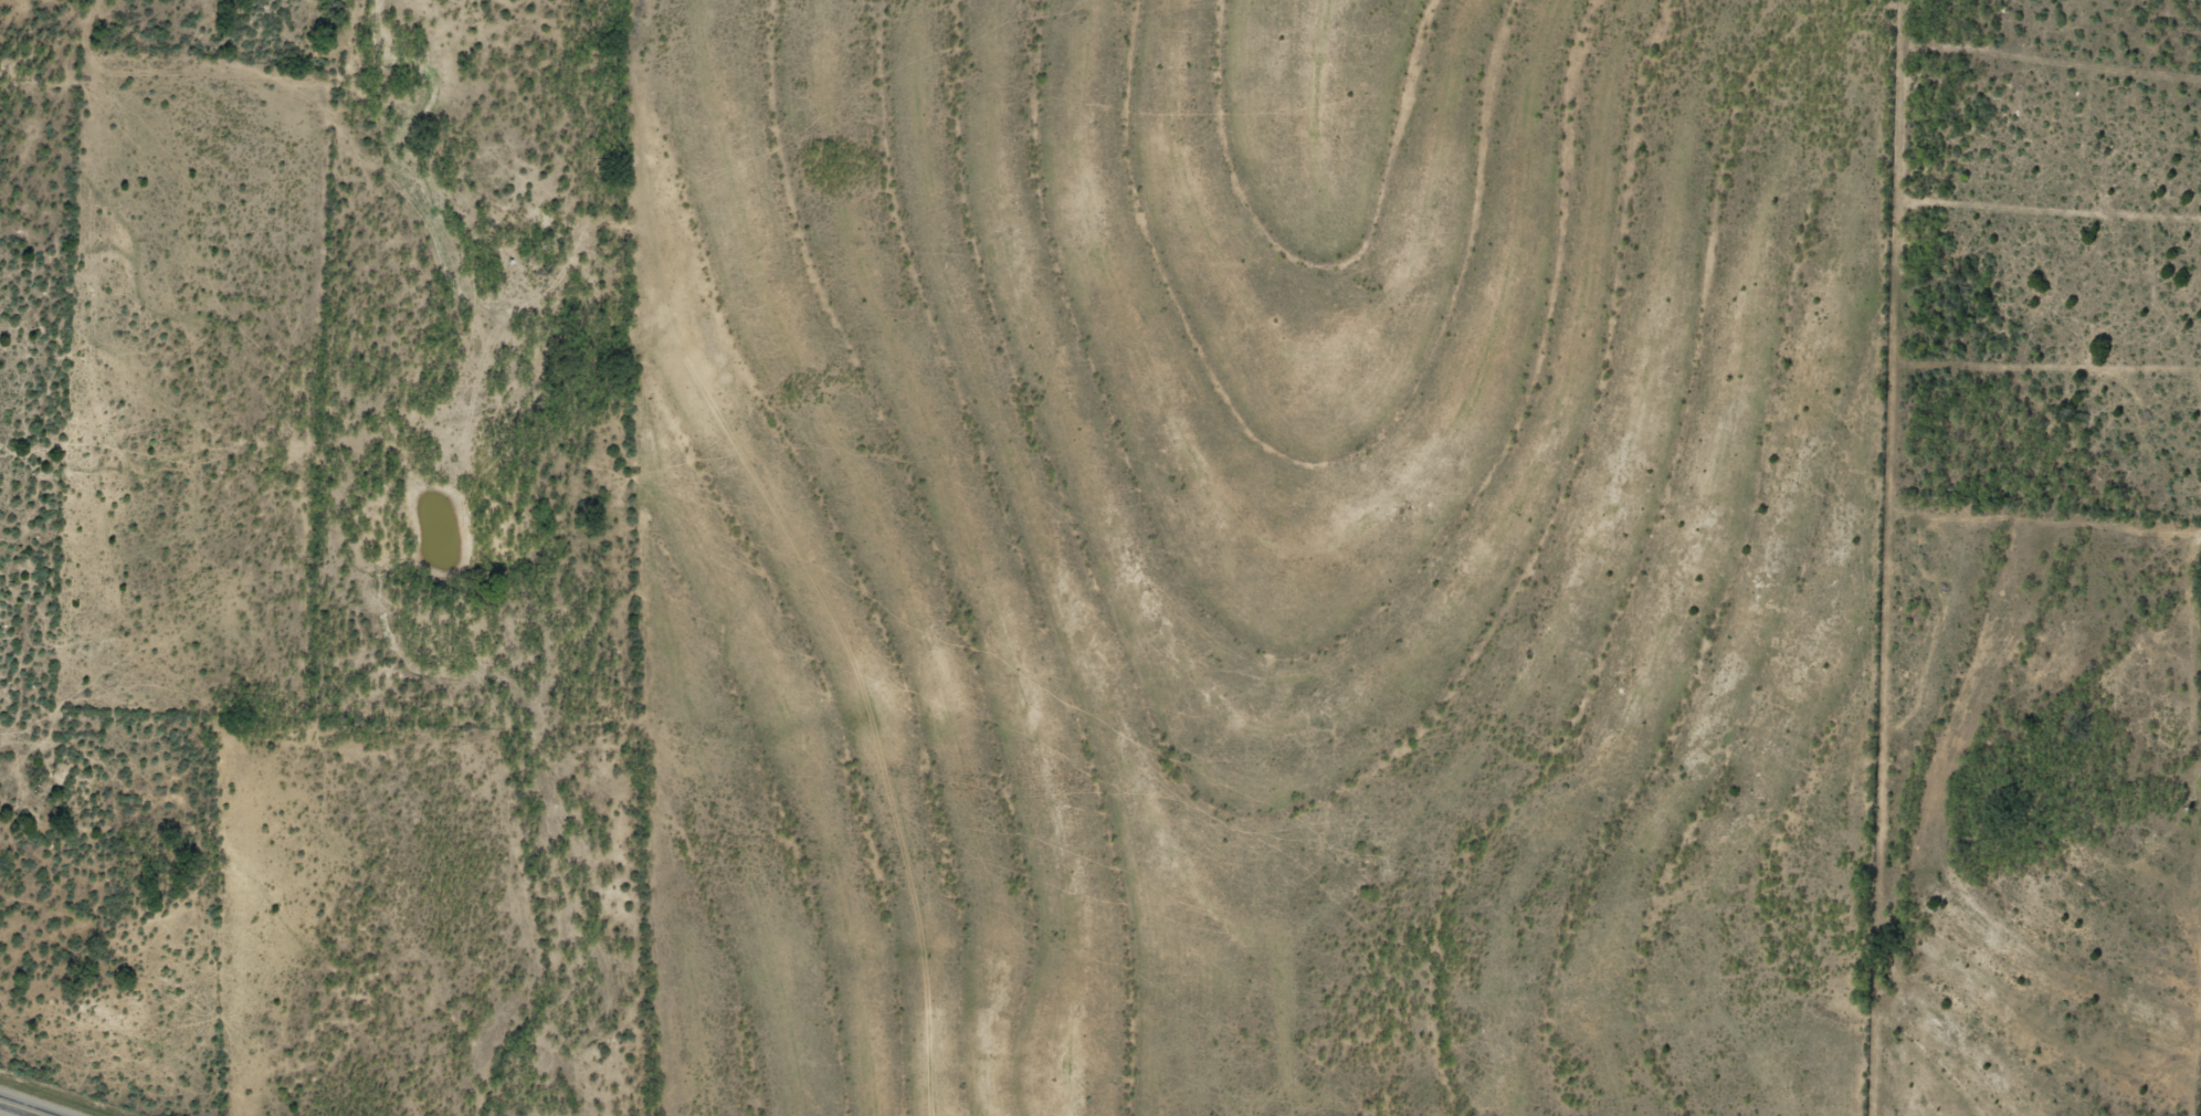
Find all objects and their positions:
road: (19, 1109)

